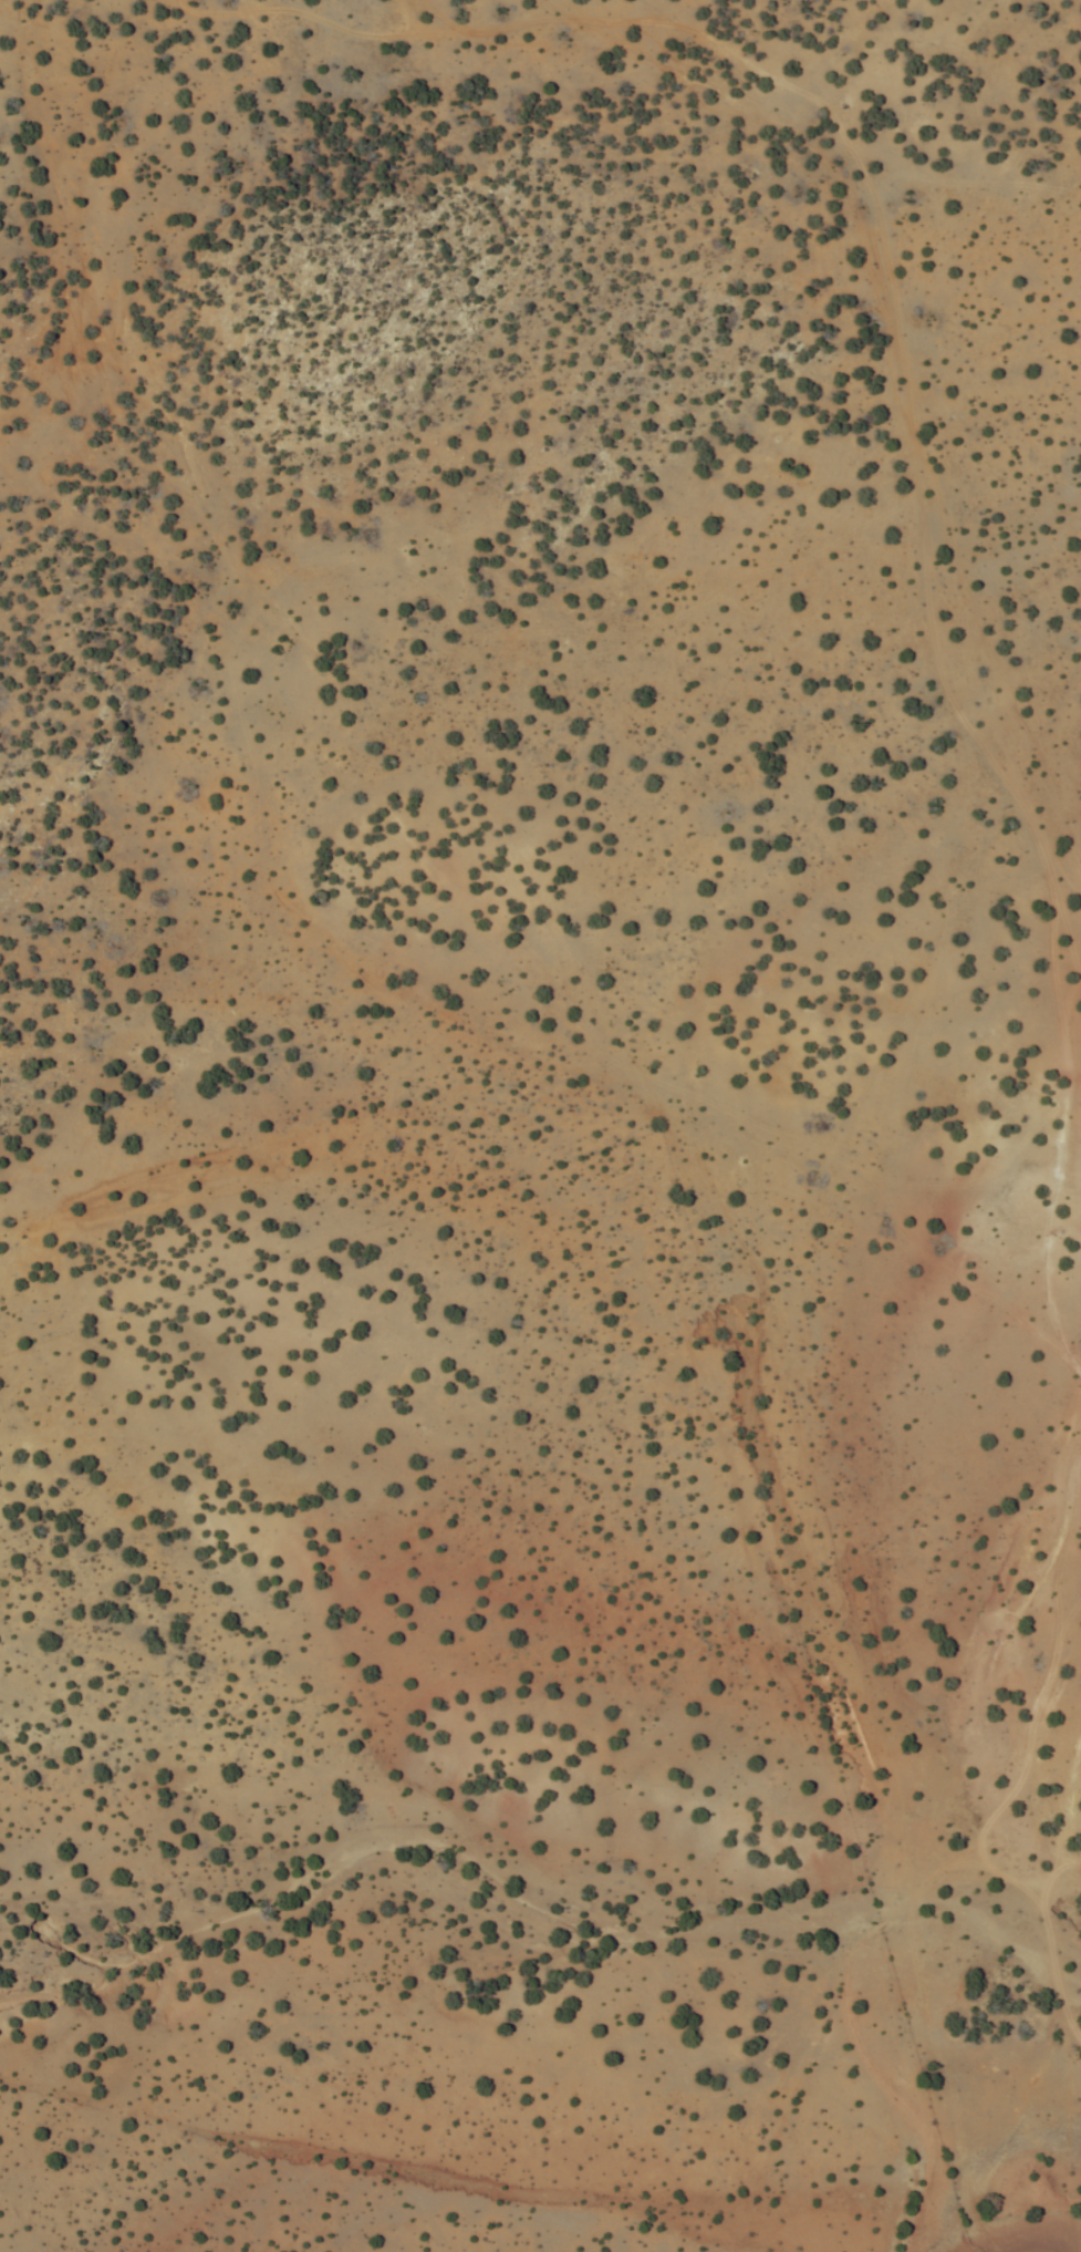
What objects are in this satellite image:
road: (915, 2163)

